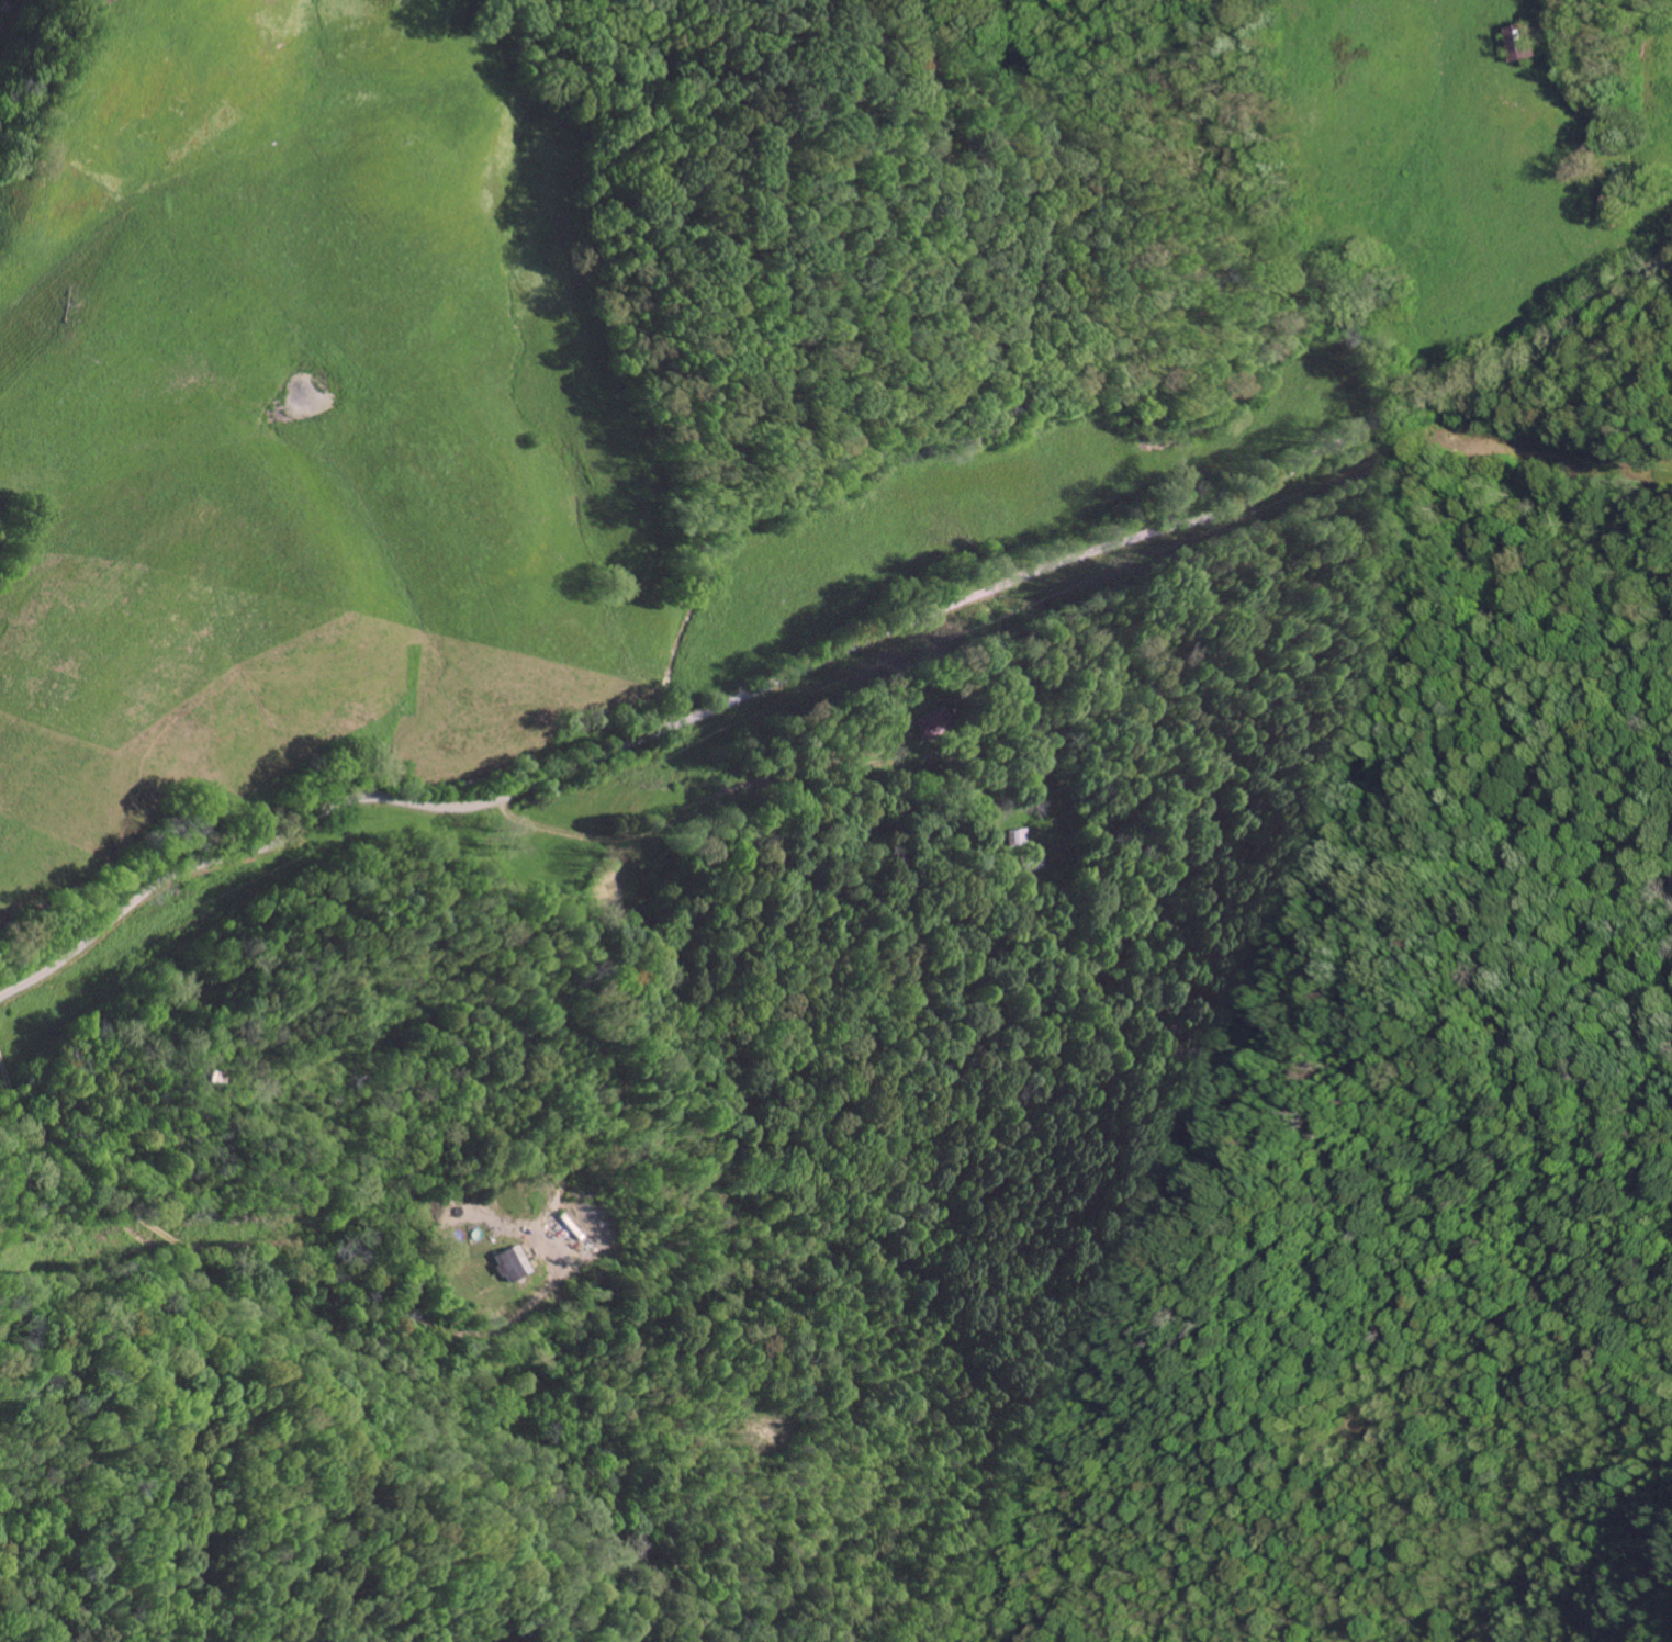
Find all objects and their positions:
building: (1520, 43)
road: (840, 654)
road: (1080, 676)
building: (923, 719)
building: (1031, 863)
road: (18, 964)
road: (441, 975)
building: (507, 1263)

